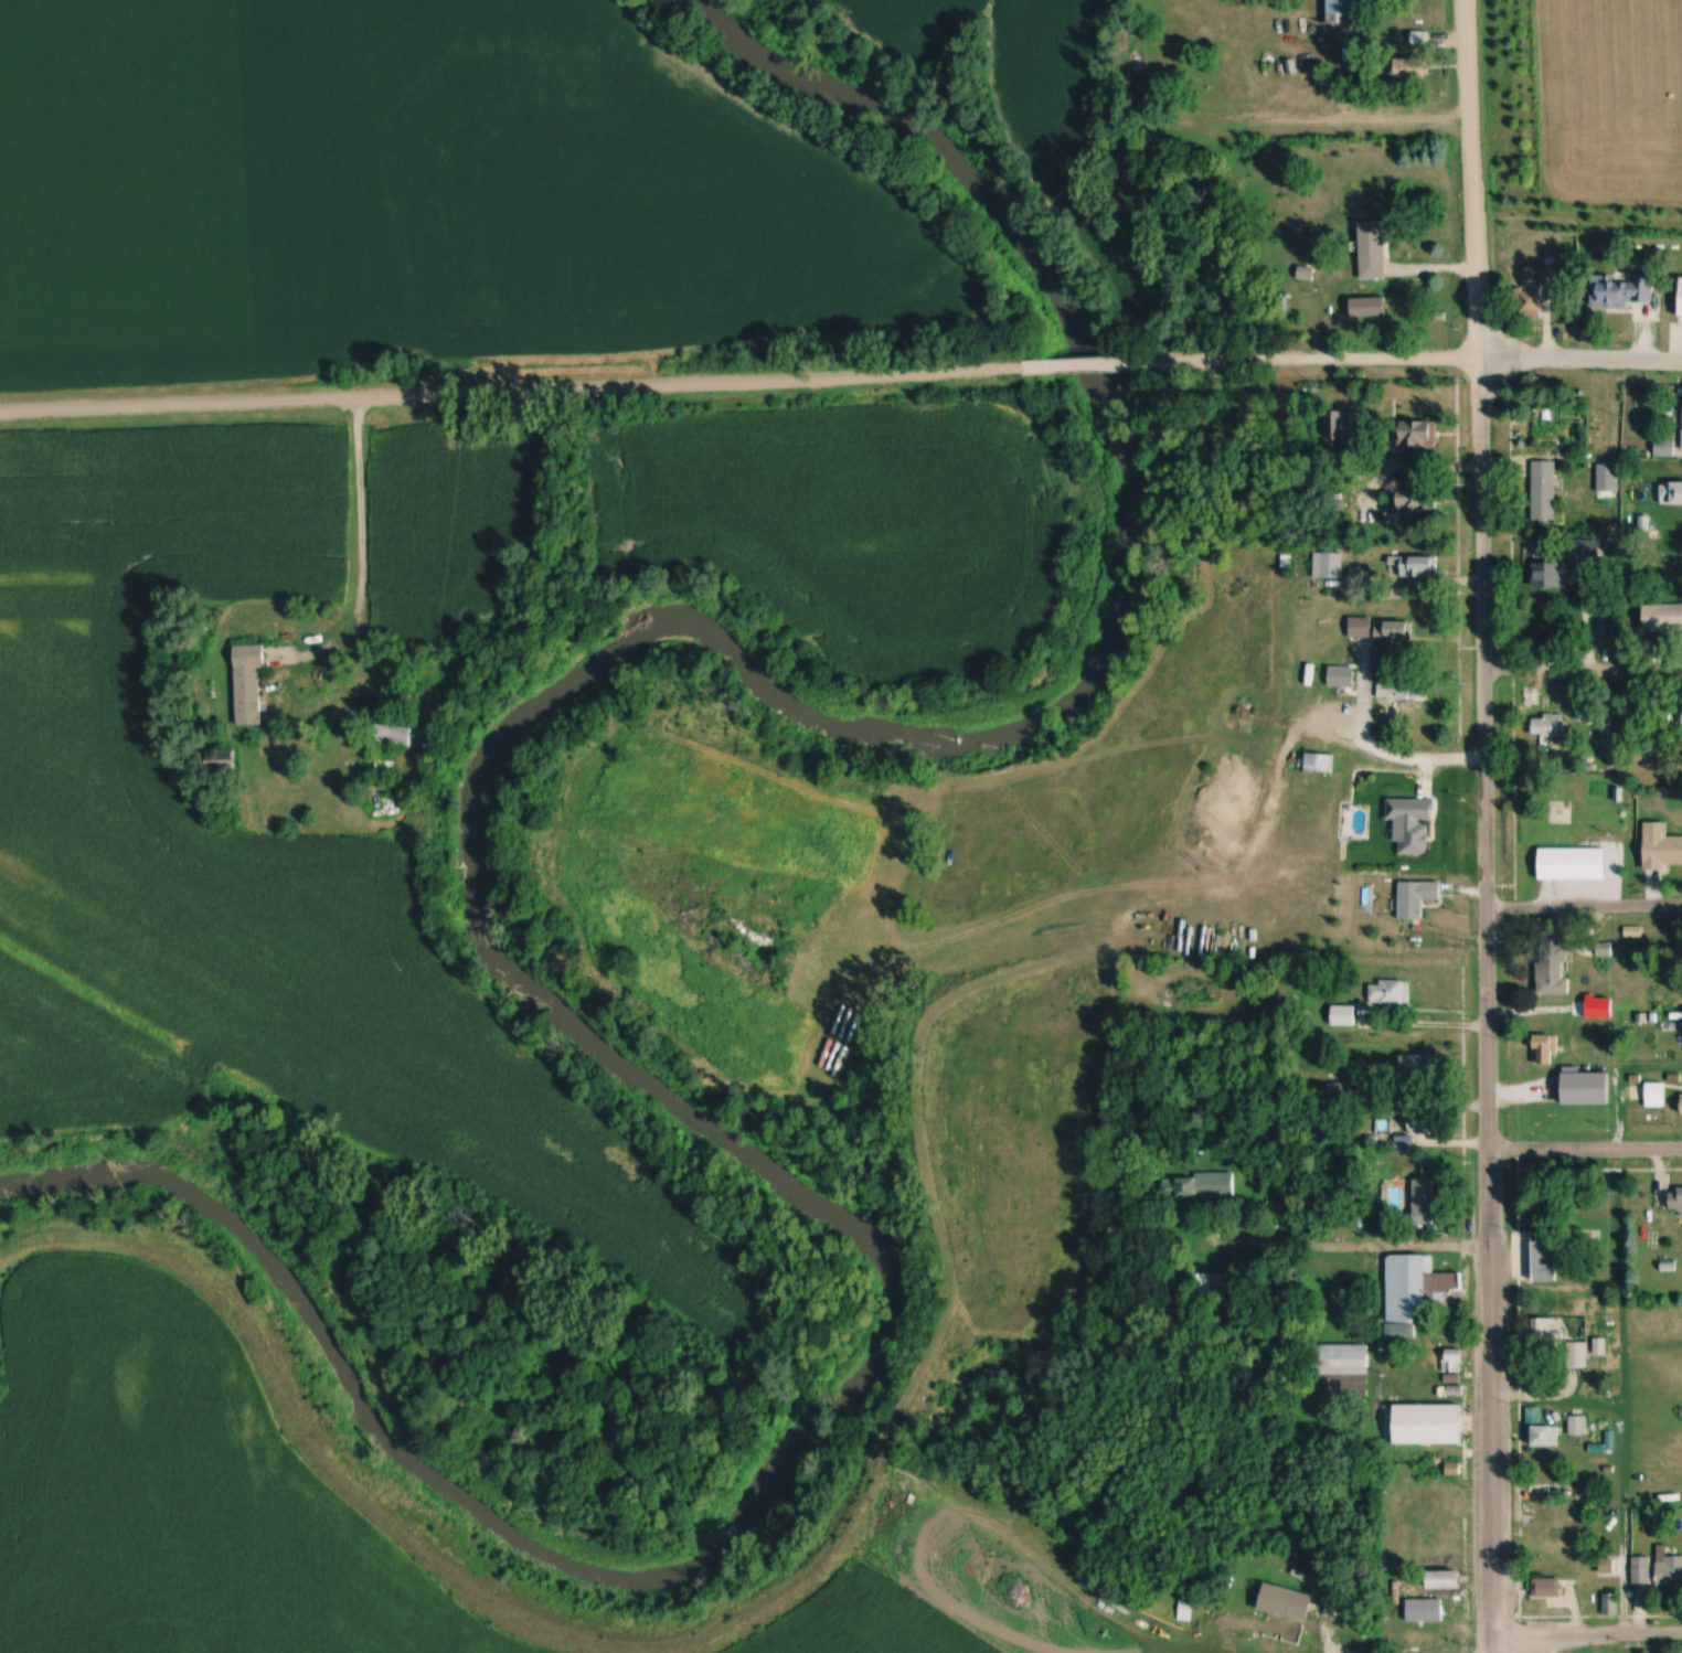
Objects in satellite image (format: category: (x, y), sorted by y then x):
building: (1344, 11)
building: (1409, 70)
road: (1472, 181)
building: (1373, 250)
building: (1621, 294)
building: (1681, 301)
building: (1527, 303)
road: (1085, 362)
road: (1406, 364)
road: (520, 390)
building: (1345, 427)
building: (1418, 436)
building: (1664, 449)
building: (1607, 480)
building: (1544, 492)
building: (1414, 500)
road: (356, 525)
building: (1671, 538)
building: (1584, 551)
building: (1540, 556)
building: (1328, 567)
building: (1415, 567)
building: (1551, 576)
road: (1362, 616)
building: (1662, 618)
building: (1395, 637)
road: (1583, 670)
building: (1341, 679)
building: (248, 686)
building: (1404, 696)
building: (1547, 727)
building: (392, 736)
road: (332, 754)
building: (1320, 765)
building: (1661, 850)
building: (1573, 865)
building: (1416, 899)
road: (1583, 914)
river: (482, 929)
building: (1680, 951)
building: (1553, 968)
building: (1390, 994)
road: (1484, 1009)
road: (1416, 1027)
building: (1544, 1055)
building: (1419, 1068)
building: (1342, 1092)
building: (1656, 1096)
building: (1681, 1105)
road: (1415, 1111)
building: (1420, 1123)
road: (1584, 1153)
building: (1205, 1188)
building: (1675, 1201)
building: (1424, 1203)
road: (1343, 1249)
building: (1546, 1258)
building: (1205, 1287)
building: (1414, 1294)
building: (1550, 1336)
building: (1577, 1356)
building: (1340, 1362)
building: (1454, 1363)
building: (1427, 1427)
building: (1578, 1428)
building: (1544, 1439)
building: (1658, 1571)
building: (1444, 1583)
building: (1546, 1588)
building: (1286, 1604)
building: (1614, 1604)
building: (1425, 1612)
road: (1587, 1632)

